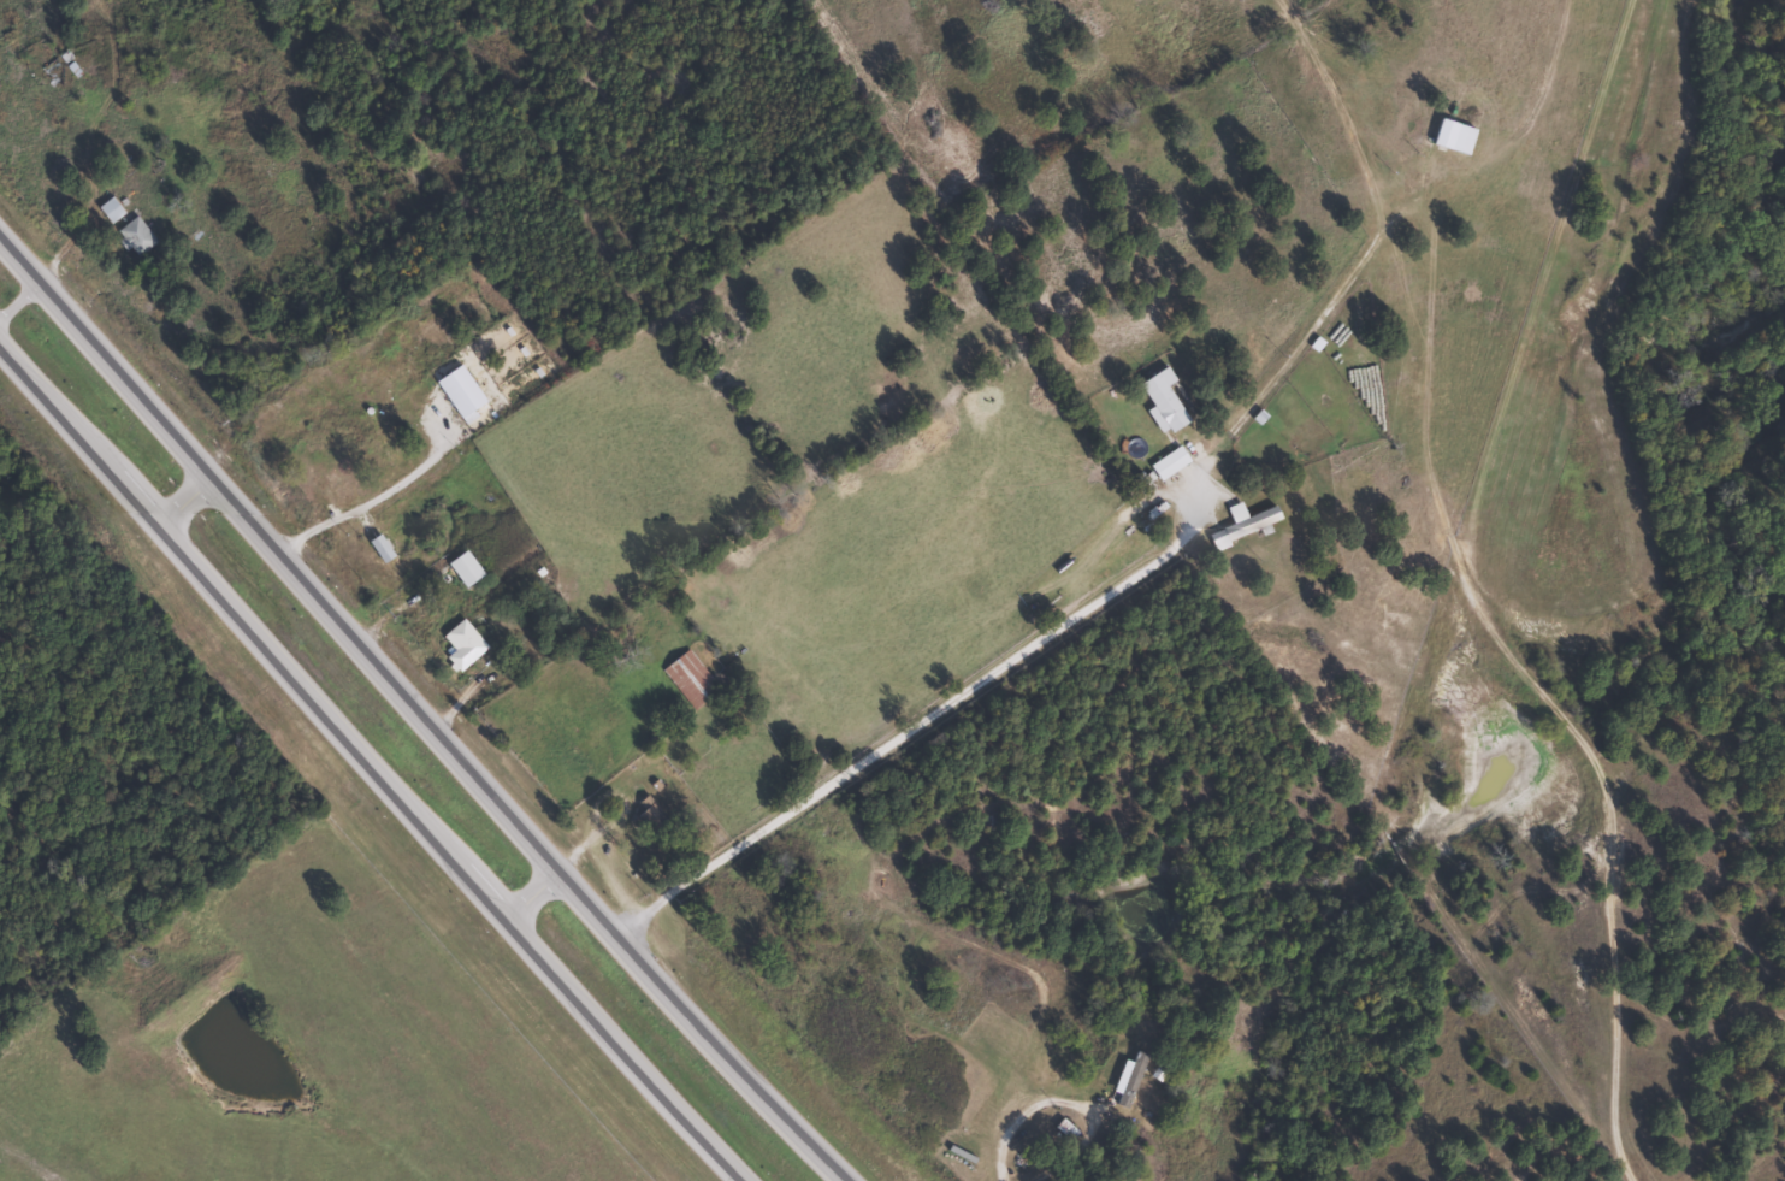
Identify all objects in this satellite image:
building: (1455, 136)
building: (110, 208)
building: (136, 235)
building: (1165, 398)
building: (285, 426)
building: (1169, 461)
building: (327, 482)
road: (185, 500)
building: (1245, 522)
building: (466, 567)
building: (463, 644)
building: (690, 679)
road: (418, 709)
building: (593, 737)
road: (370, 764)
building: (650, 815)
road: (563, 856)
building: (1160, 1073)
building: (1130, 1076)
building: (1066, 1128)

